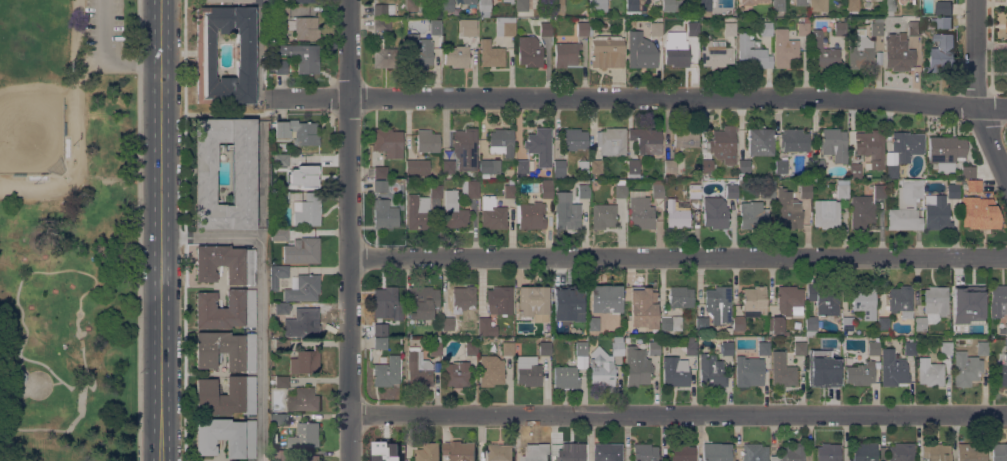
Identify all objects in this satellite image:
building: (224, 0)
building: (304, 1)
building: (751, 1)
building: (468, 2)
building: (511, 2)
building: (801, 2)
building: (413, 5)
building: (447, 5)
building: (521, 5)
building: (597, 5)
building: (672, 5)
building: (707, 5)
building: (778, 5)
building: (818, 5)
building: (888, 6)
building: (484, 7)
building: (555, 7)
building: (632, 8)
building: (852, 8)
building: (383, 9)
building: (944, 9)
building: (281, 11)
building: (1006, 15)
building: (382, 23)
building: (505, 26)
building: (944, 26)
building: (304, 27)
building: (434, 27)
building: (467, 27)
building: (692, 27)
building: (803, 27)
building: (876, 27)
building: (545, 28)
building: (656, 28)
building: (730, 28)
building: (766, 28)
building: (840, 28)
building: (913, 28)
building: (584, 29)
road: (77, 32)
parking lot: (103, 36)
building: (784, 48)
road: (262, 49)
building: (640, 50)
building: (676, 50)
building: (205, 51)
building: (418, 51)
building: (529, 51)
building: (606, 51)
building: (823, 51)
building: (861, 51)
building: (714, 52)
building: (898, 52)
building: (491, 53)
building: (384, 54)
building: (566, 54)
building: (752, 54)
building: (940, 54)
building: (457, 55)
building: (302, 56)
road: (104, 60)
building: (280, 66)
park: (31, 85)
park: (32, 85)
road: (976, 92)
road: (637, 95)
road: (220, 112)
building: (280, 127)
building: (306, 133)
building: (686, 137)
building: (574, 138)
building: (646, 140)
building: (794, 140)
building: (427, 141)
building: (501, 141)
building: (611, 141)
building: (760, 141)
building: (388, 142)
building: (723, 144)
building: (834, 144)
building: (907, 144)
building: (540, 145)
building: (871, 146)
road: (78, 147)
building: (466, 148)
building: (946, 149)
building: (280, 159)
building: (698, 163)
building: (817, 165)
building: (414, 166)
building: (448, 166)
building: (583, 166)
building: (596, 166)
building: (707, 166)
building: (781, 166)
building: (488, 167)
building: (523, 167)
building: (743, 167)
building: (559, 168)
building: (670, 168)
building: (633, 169)
building: (892, 170)
building: (855, 171)
building: (968, 171)
building: (380, 172)
building: (306, 174)
building: (681, 176)
road: (262, 180)
building: (511, 181)
building: (747, 182)
building: (972, 184)
building: (243, 186)
building: (546, 188)
building: (620, 188)
building: (657, 188)
building: (768, 188)
building: (470, 189)
building: (731, 189)
building: (583, 190)
building: (842, 190)
building: (879, 190)
building: (953, 190)
building: (436, 191)
building: (510, 191)
building: (694, 191)
building: (805, 191)
building: (282, 195)
building: (906, 205)
building: (383, 206)
building: (307, 210)
building: (788, 210)
building: (454, 211)
building: (861, 211)
building: (419, 212)
building: (641, 212)
building: (715, 212)
building: (979, 212)
building: (492, 213)
building: (677, 213)
building: (827, 213)
building: (937, 213)
building: (530, 214)
building: (567, 214)
building: (603, 215)
building: (753, 215)
park: (67, 230)
road: (138, 230)
road: (160, 230)
road: (185, 230)
road: (349, 230)
building: (279, 234)
building: (307, 249)
road: (678, 255)
building: (226, 263)
road: (81, 271)
building: (277, 275)
building: (302, 287)
building: (680, 296)
building: (971, 296)
road: (262, 297)
building: (385, 298)
building: (605, 298)
building: (824, 299)
building: (499, 300)
building: (571, 300)
building: (789, 300)
building: (900, 300)
building: (936, 300)
building: (998, 300)
building: (864, 301)
building: (421, 302)
building: (533, 302)
building: (718, 303)
building: (751, 305)
building: (459, 306)
building: (643, 306)
building: (226, 309)
building: (281, 310)
building: (702, 322)
building: (306, 323)
building: (593, 323)
building: (671, 323)
building: (884, 323)
building: (920, 323)
building: (956, 323)
building: (774, 324)
building: (847, 324)
building: (812, 325)
building: (557, 326)
building: (486, 327)
building: (980, 328)
building: (380, 329)
building: (1003, 329)
building: (787, 333)
building: (380, 342)
building: (1006, 343)
building: (282, 344)
building: (435, 346)
building: (654, 346)
building: (836, 346)
building: (910, 346)
building: (982, 346)
building: (763, 347)
building: (873, 347)
building: (472, 348)
building: (507, 348)
building: (545, 348)
building: (581, 348)
building: (618, 348)
building: (691, 348)
building: (727, 348)
building: (800, 348)
building: (946, 348)
building: (226, 350)
building: (305, 361)
road: (20, 363)
building: (637, 366)
building: (601, 367)
building: (819, 368)
building: (966, 368)
building: (1001, 368)
building: (418, 369)
building: (893, 369)
building: (491, 370)
building: (528, 370)
building: (749, 370)
building: (782, 370)
building: (675, 371)
building: (711, 371)
building: (930, 371)
building: (386, 372)
building: (861, 373)
building: (456, 374)
building: (16, 376)
building: (565, 376)
road: (55, 381)
building: (281, 381)
road: (81, 396)
building: (226, 396)
building: (303, 400)
road: (678, 412)
building: (279, 419)
building: (226, 436)
building: (305, 436)
building: (273, 438)
building: (459, 450)
building: (386, 451)
building: (716, 451)
building: (864, 451)
building: (902, 451)
building: (971, 451)
building: (429, 452)
building: (500, 452)
building: (536, 452)
building: (573, 452)
building: (607, 452)
building: (645, 452)
building: (682, 452)
building: (755, 452)
building: (791, 452)
building: (828, 452)
building: (936, 452)
building: (1001, 452)
building: (282, 456)
building: (309, 458)

